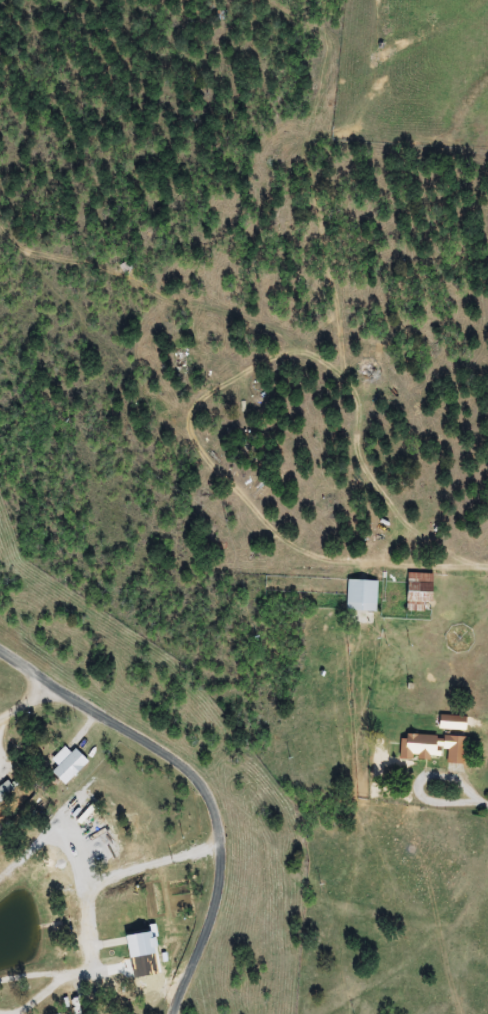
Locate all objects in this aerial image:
building: (422, 591)
building: (364, 595)
road: (16, 695)
building: (456, 724)
building: (435, 748)
building: (70, 765)
building: (6, 790)
road: (140, 802)
road: (270, 848)
building: (139, 926)
road: (444, 937)
road: (439, 980)
road: (350, 986)

